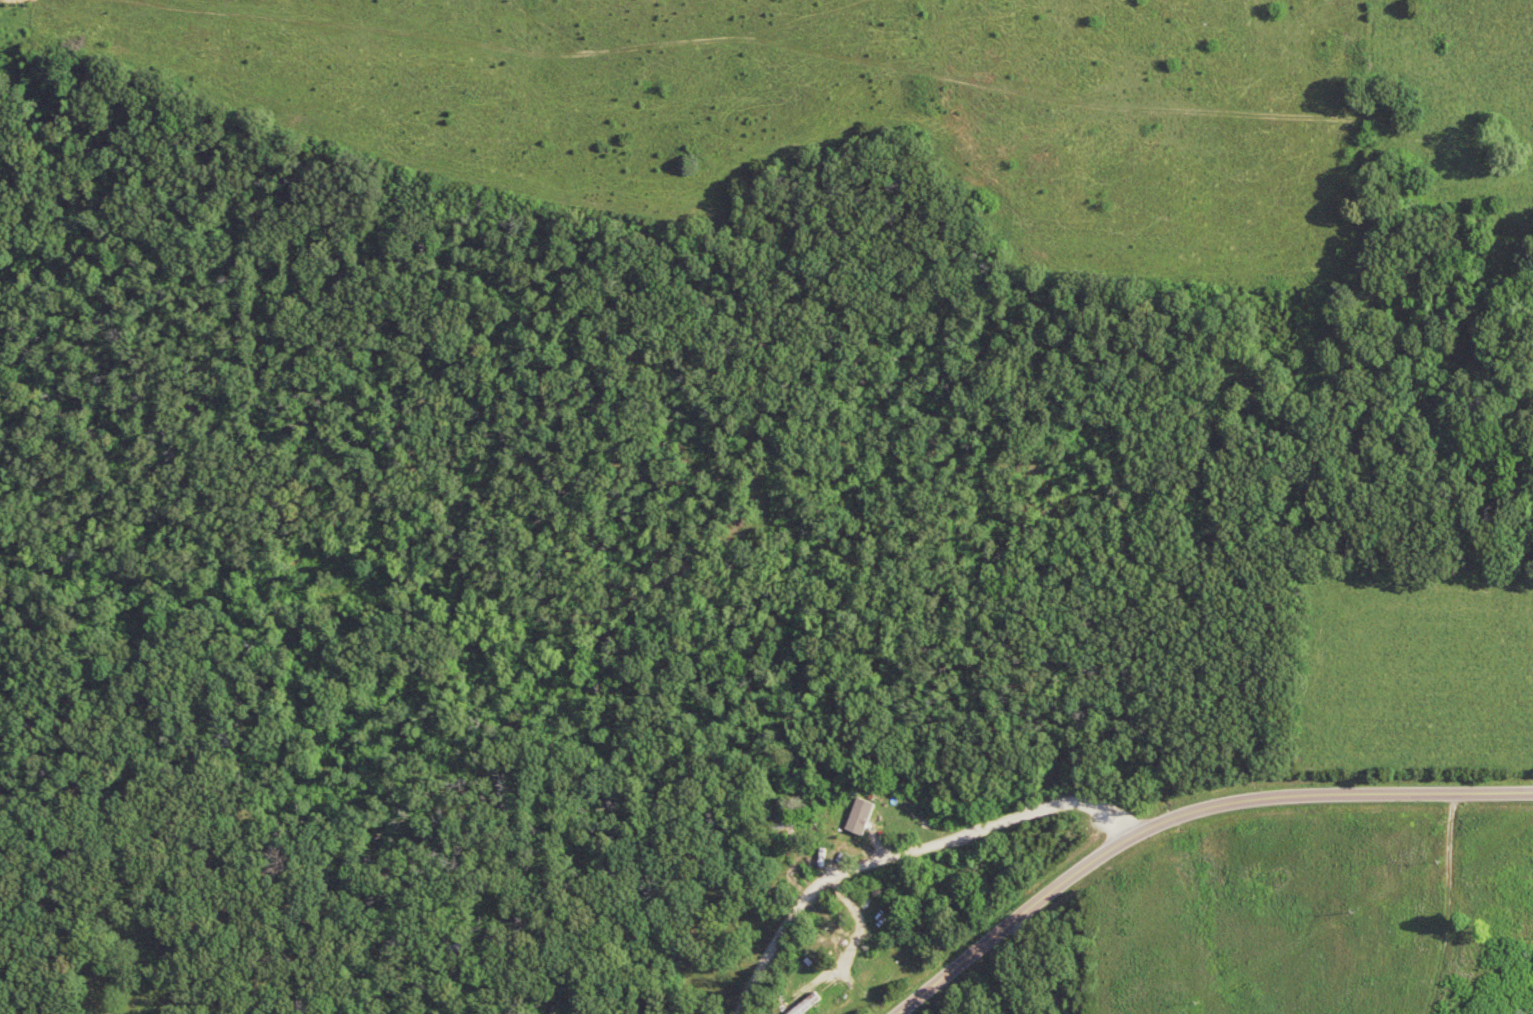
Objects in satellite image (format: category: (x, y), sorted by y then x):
road: (1185, 814)
building: (866, 815)
road: (906, 852)

